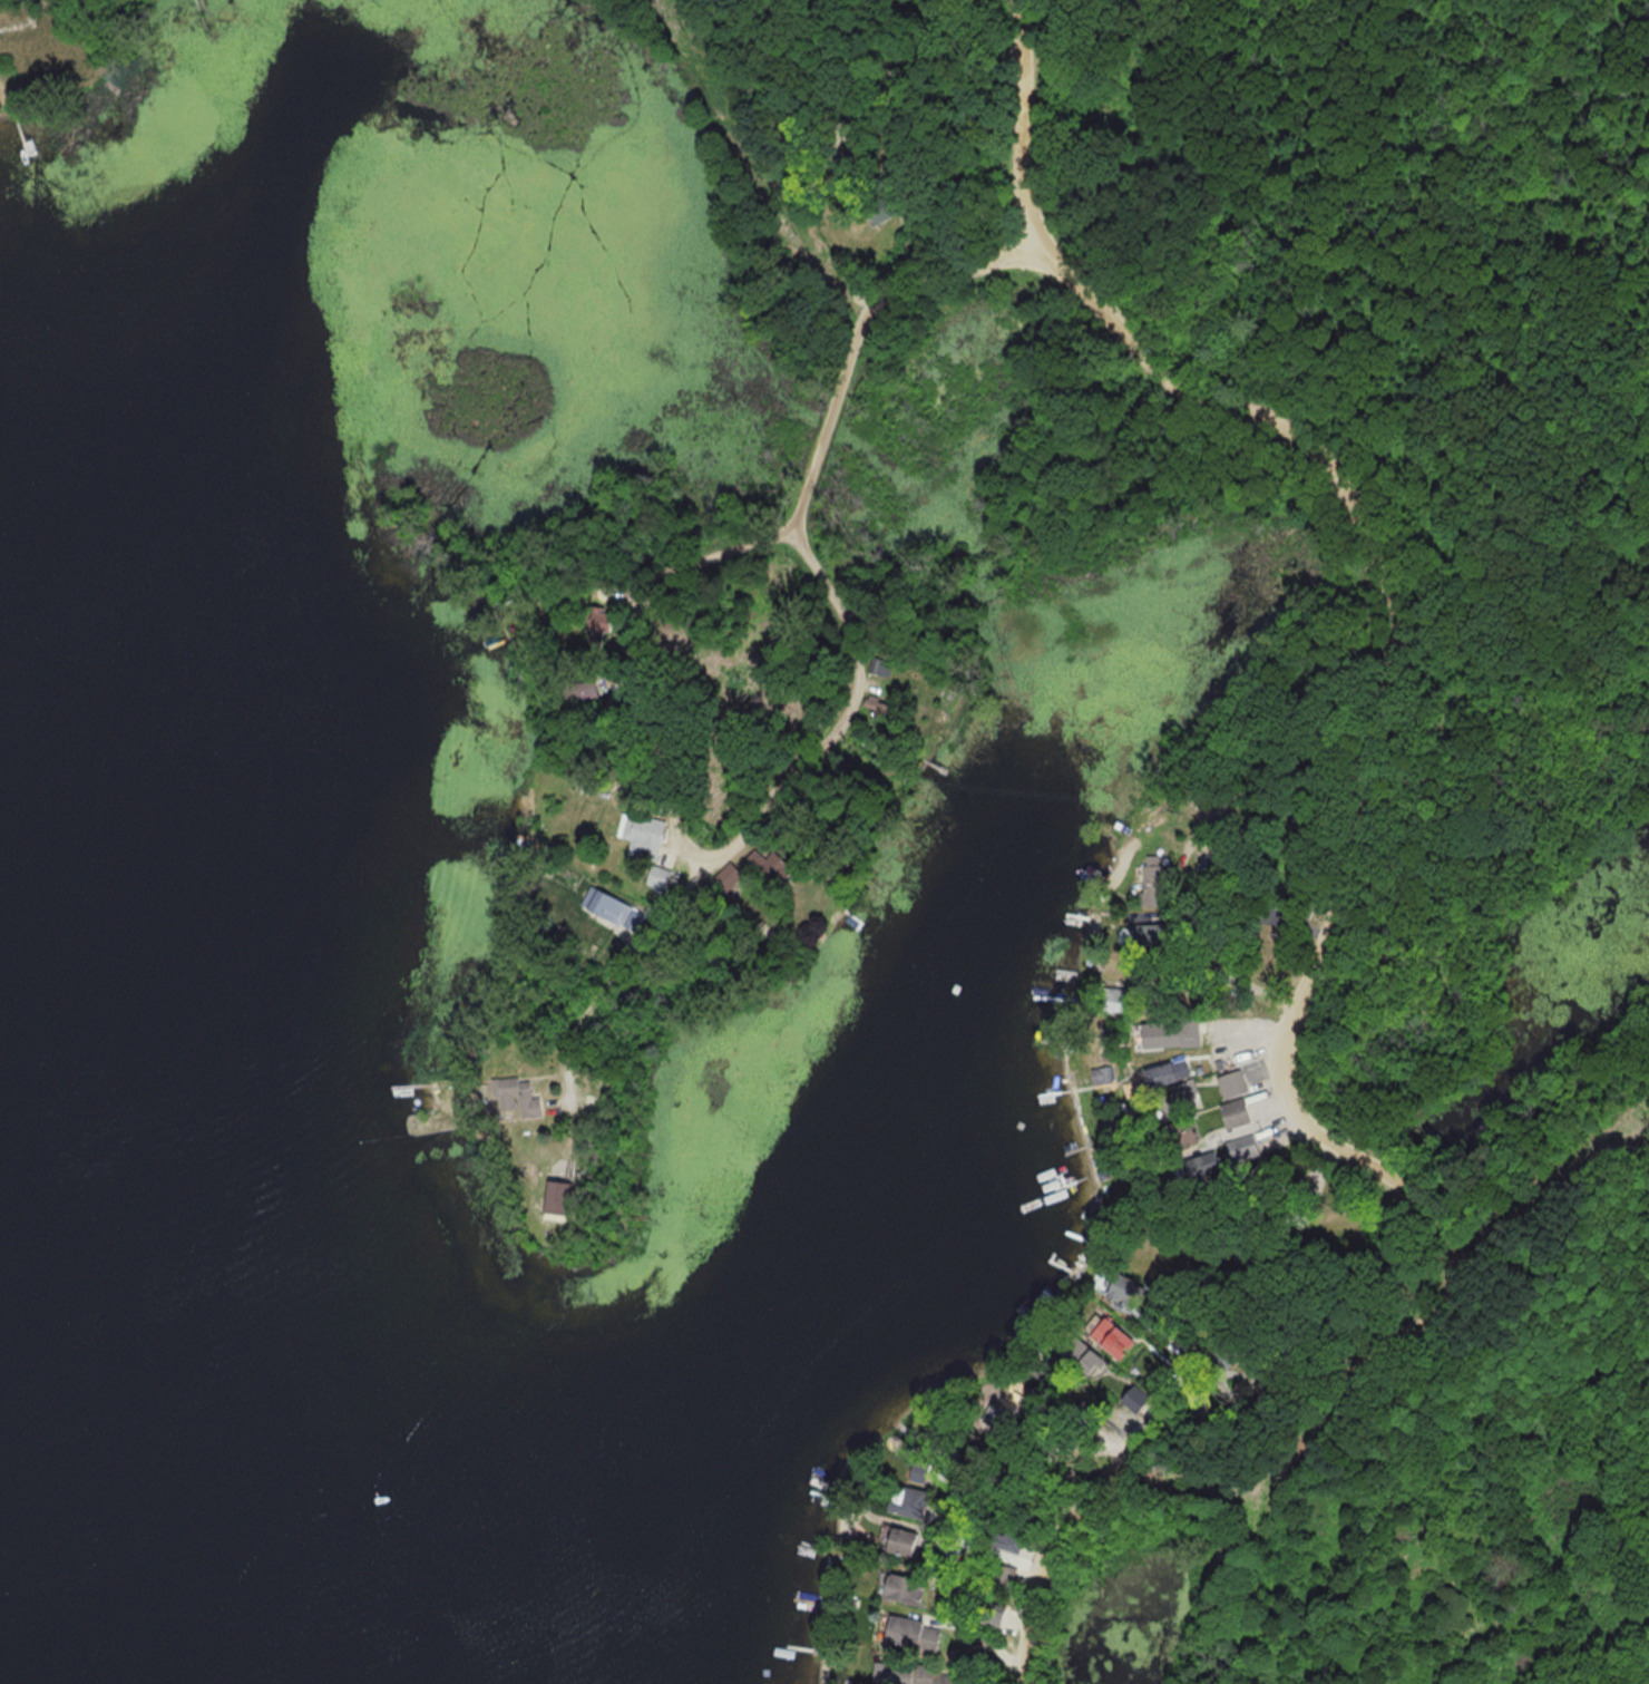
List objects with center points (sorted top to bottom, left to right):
park: (612, 1)
road: (930, 26)
park: (59, 46)
road: (1030, 120)
road: (831, 139)
road: (789, 154)
building: (850, 164)
building: (879, 210)
road: (956, 271)
road: (863, 325)
road: (825, 437)
road: (792, 527)
road: (863, 664)
building: (878, 666)
building: (575, 690)
park: (1382, 736)
building: (638, 835)
building: (767, 866)
building: (654, 875)
building: (724, 878)
building: (1153, 884)
building: (609, 909)
road: (1235, 923)
building: (1148, 934)
building: (1114, 1000)
road: (1302, 1018)
building: (1164, 1033)
building: (1164, 1072)
building: (1100, 1074)
building: (1231, 1083)
building: (1182, 1097)
building: (517, 1098)
building: (1232, 1113)
building: (1239, 1148)
building: (1196, 1166)
building: (552, 1197)
building: (1120, 1288)
building: (1110, 1337)
building: (1079, 1355)
road: (1198, 1364)
building: (1132, 1399)
road: (1101, 1414)
building: (919, 1471)
road: (1021, 1482)
building: (905, 1501)
building: (1003, 1540)
building: (898, 1541)
building: (1004, 1578)
building: (899, 1589)
building: (986, 1618)
building: (909, 1634)
building: (911, 1674)

